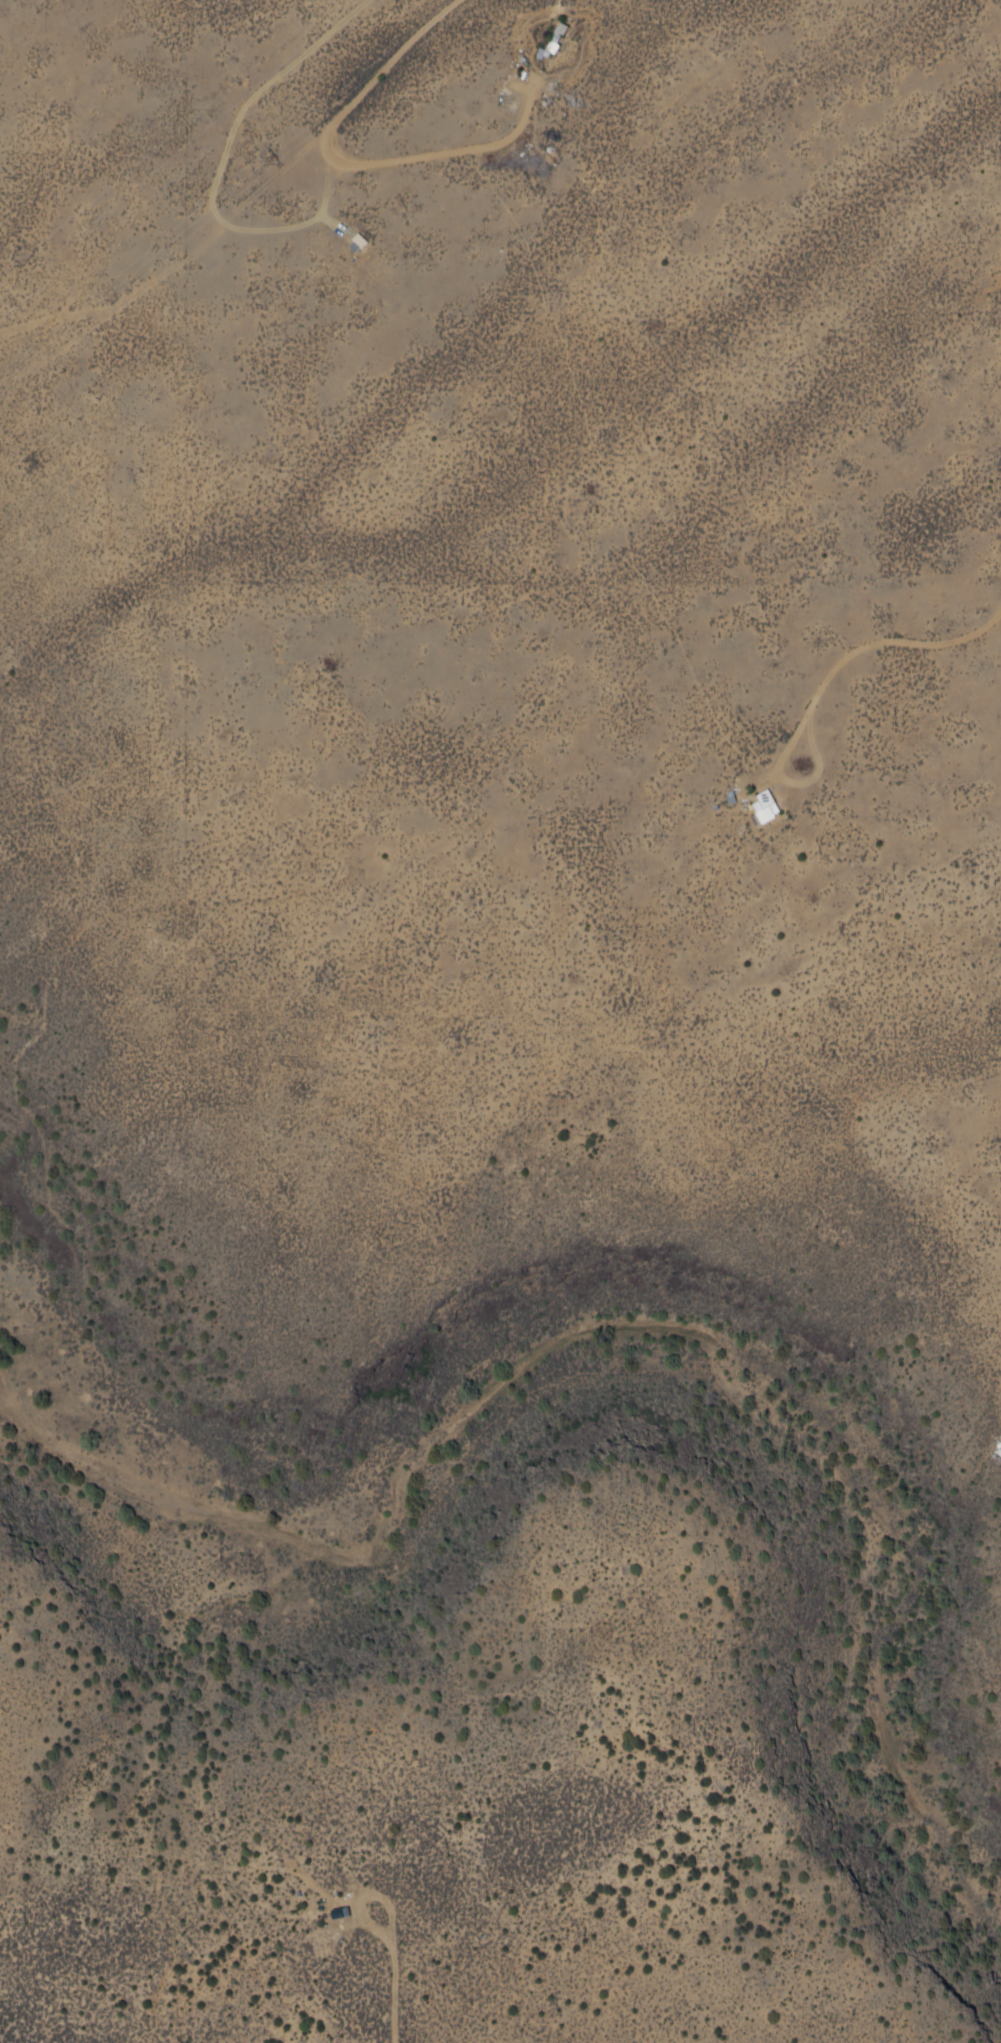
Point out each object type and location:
power tower: (287, 160)
building: (357, 241)

